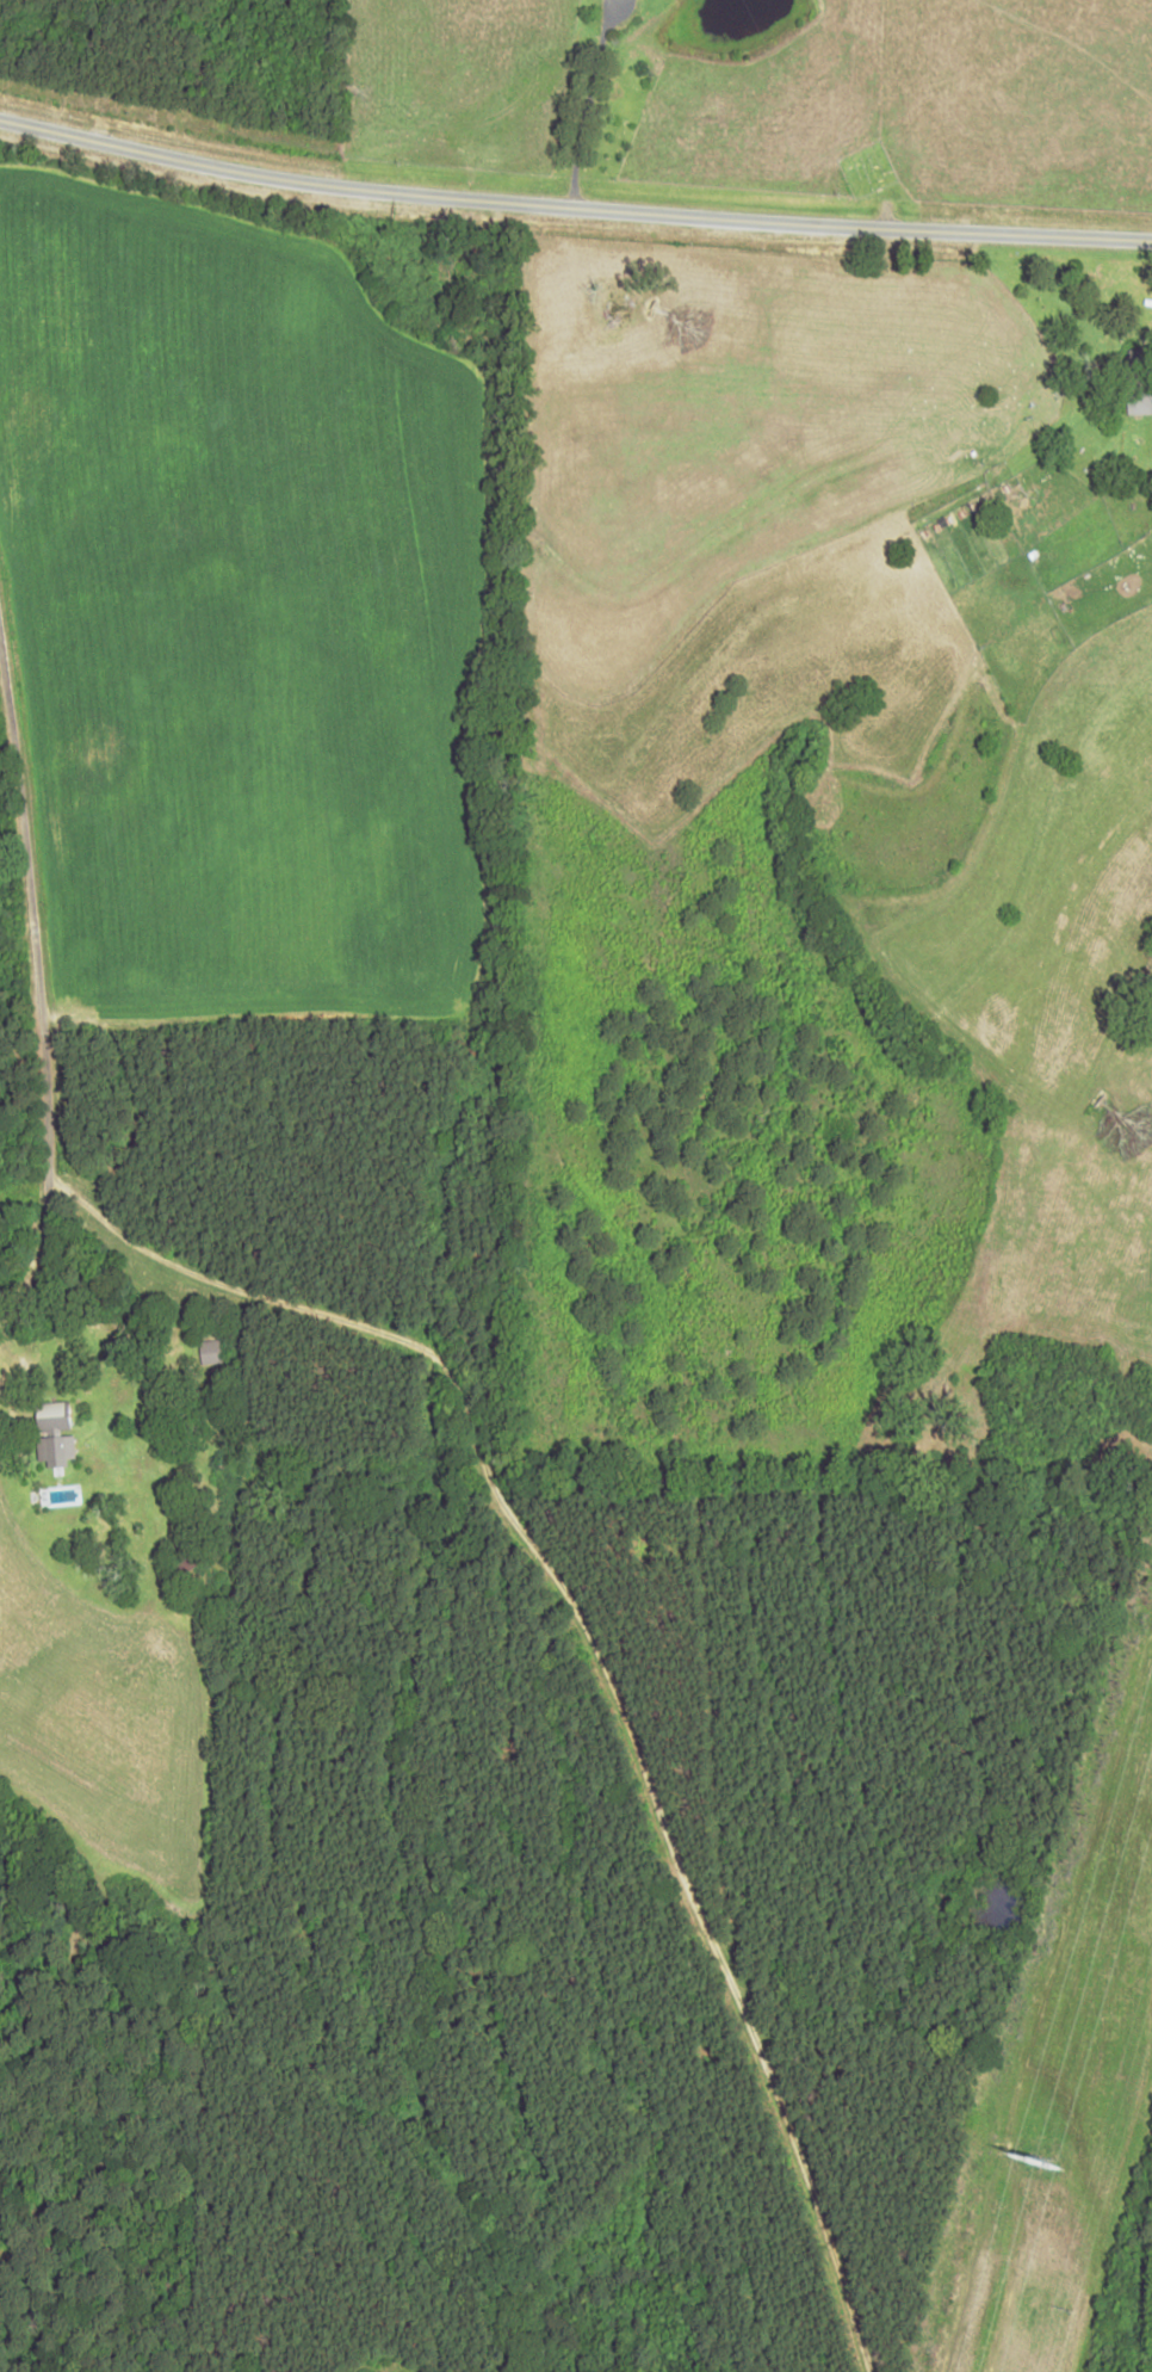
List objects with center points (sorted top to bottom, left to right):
road: (587, 101)
road: (572, 203)
road: (32, 1005)
building: (211, 1352)
building: (51, 1417)
building: (55, 1450)
power tower: (1020, 2160)

